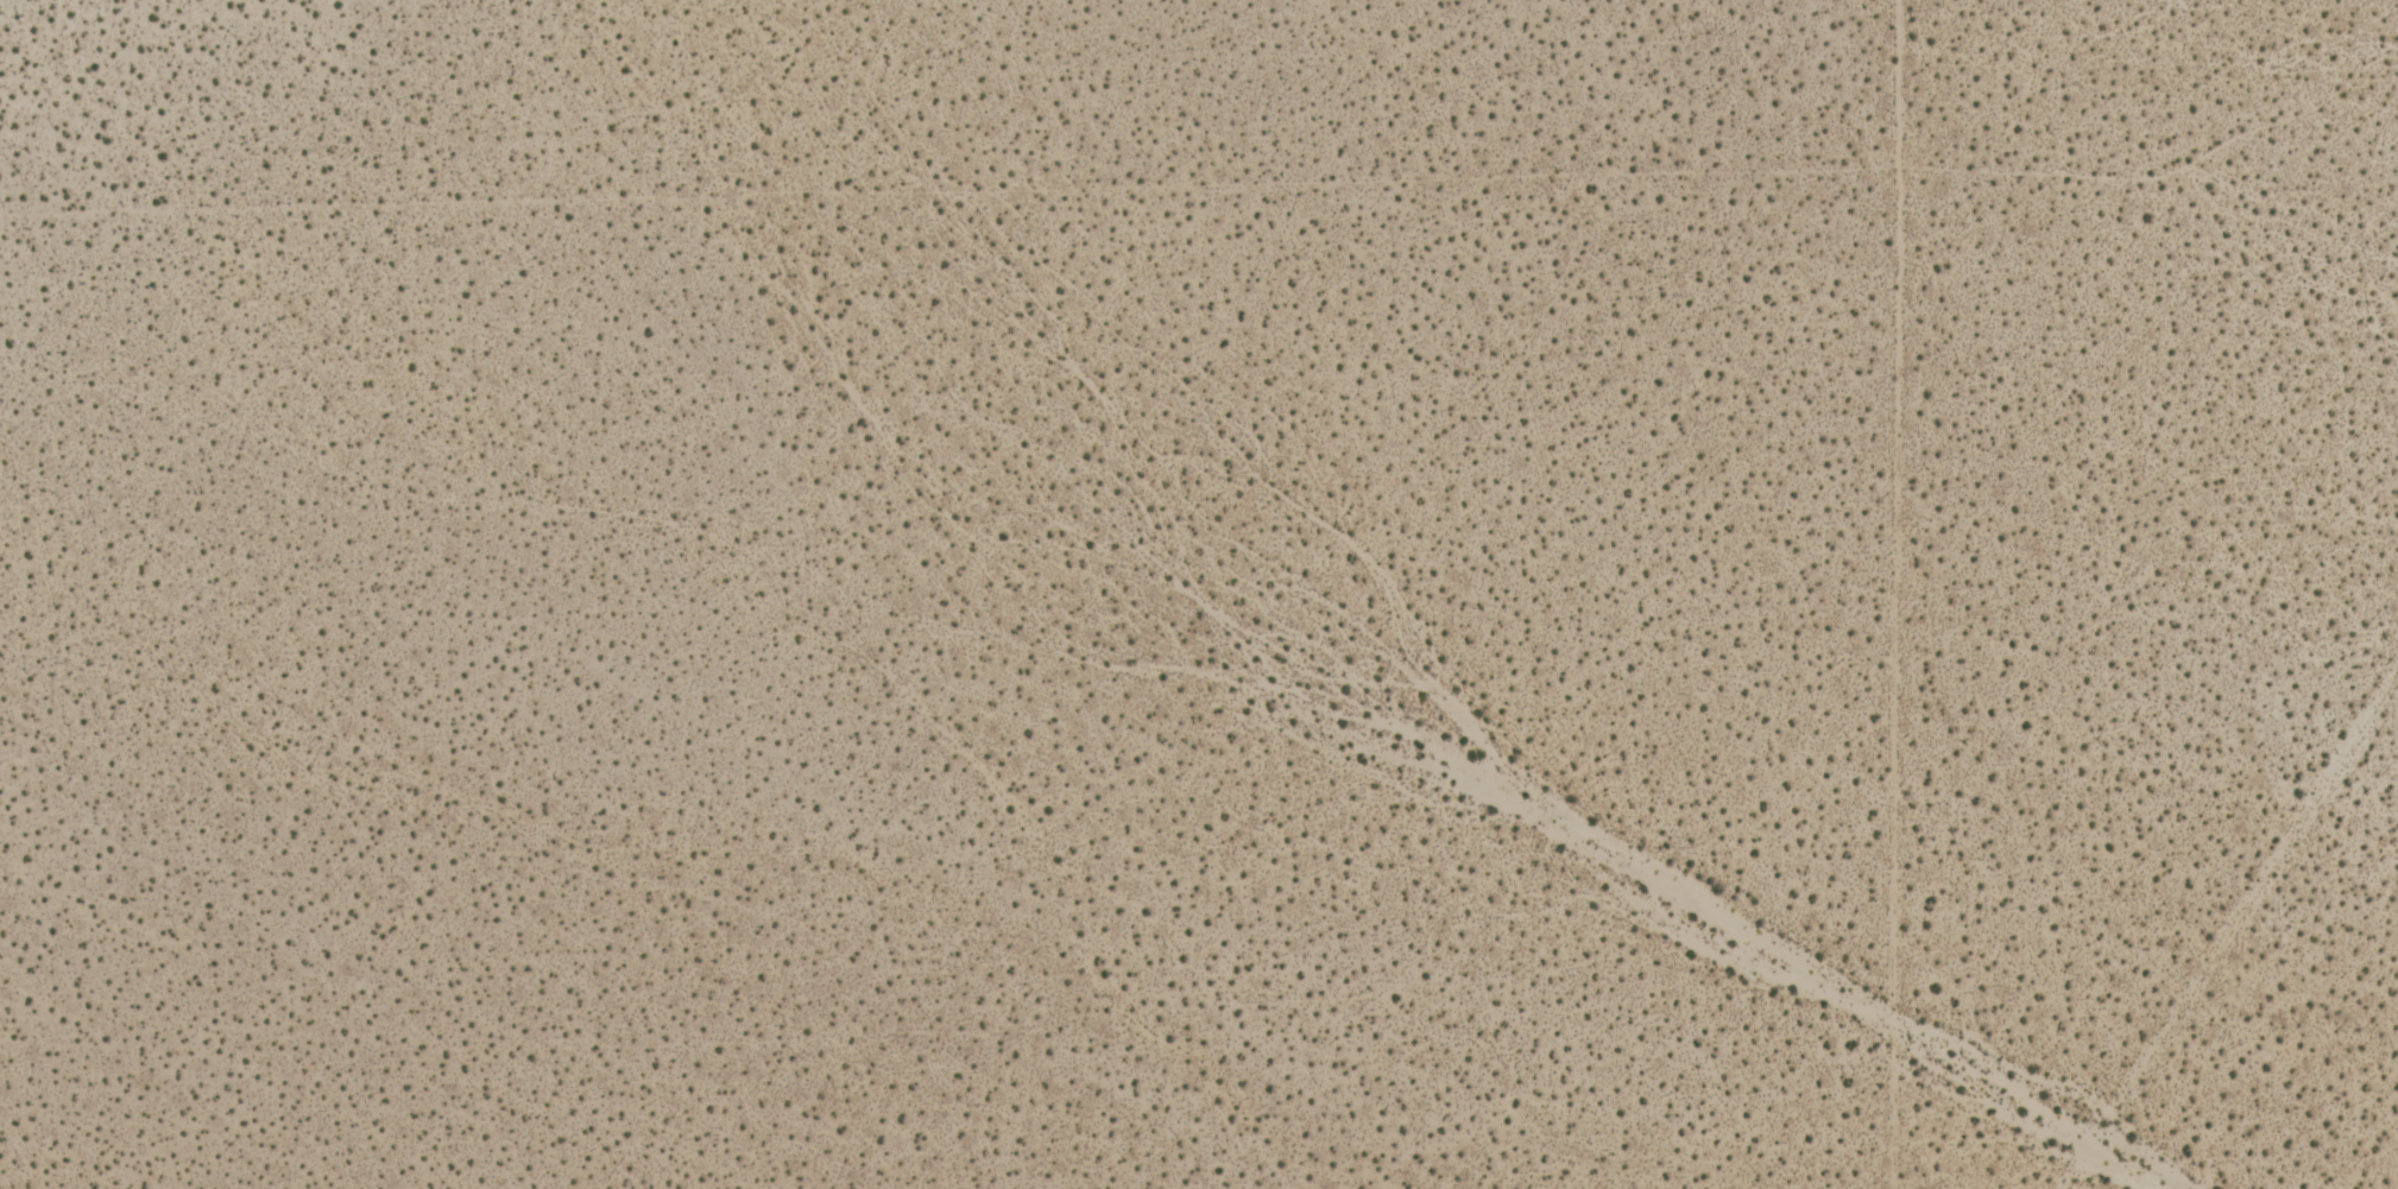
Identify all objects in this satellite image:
road: (1889, 594)

